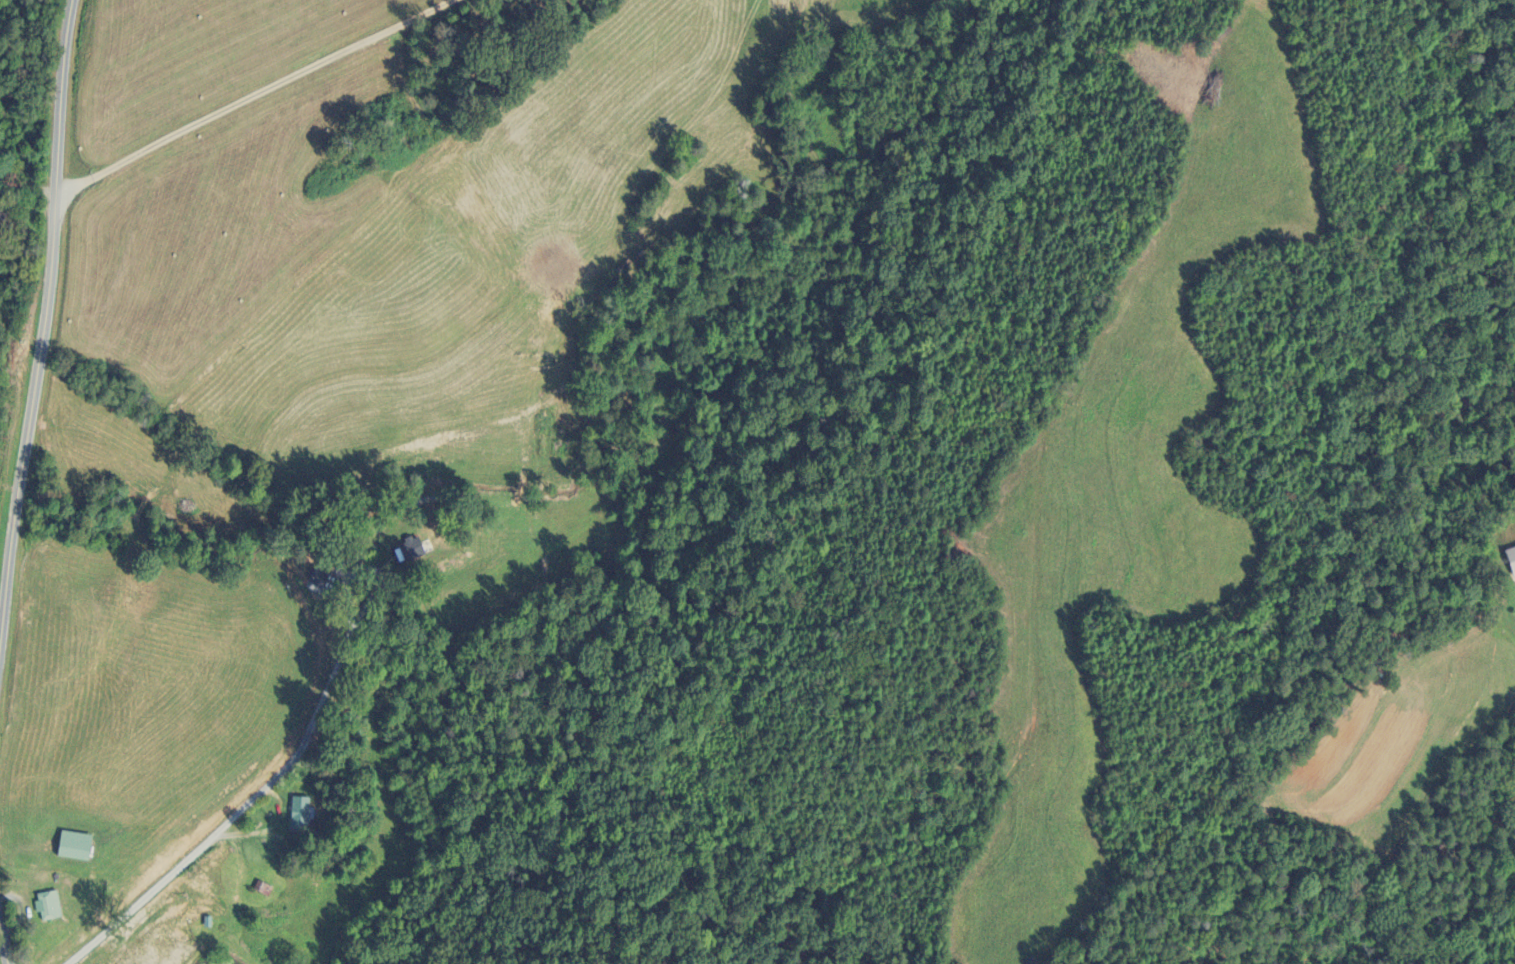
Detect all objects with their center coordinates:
road: (252, 95)
road: (47, 311)
building: (415, 550)
building: (1510, 561)
road: (253, 794)
building: (305, 815)
road: (266, 828)
building: (81, 846)
building: (52, 905)
road: (4, 942)

